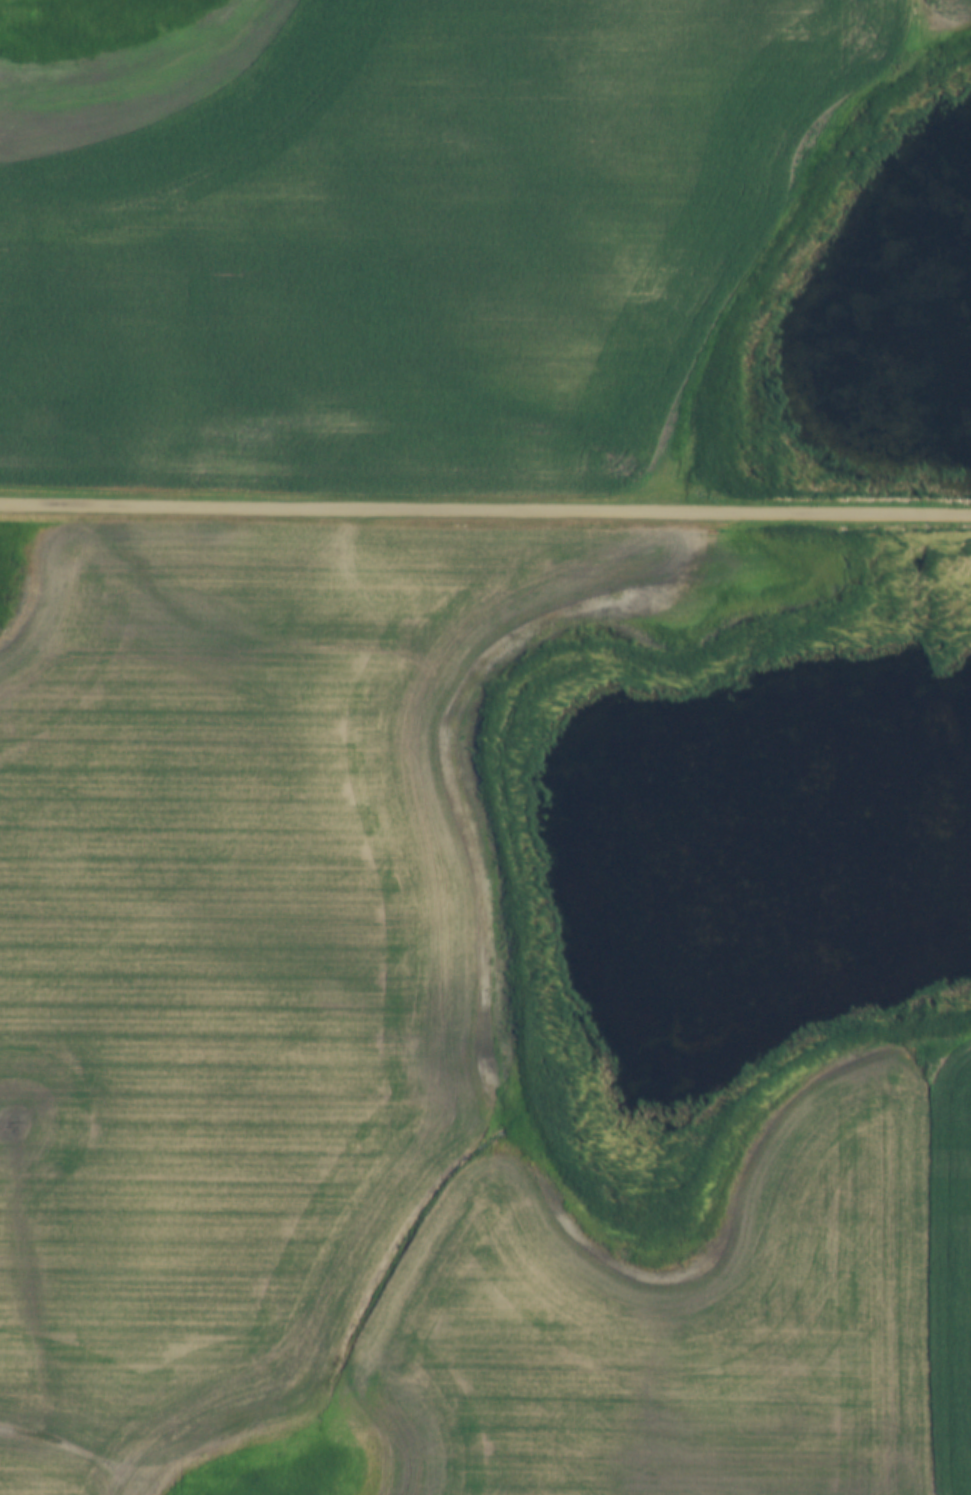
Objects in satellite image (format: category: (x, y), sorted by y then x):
road: (485, 511)

